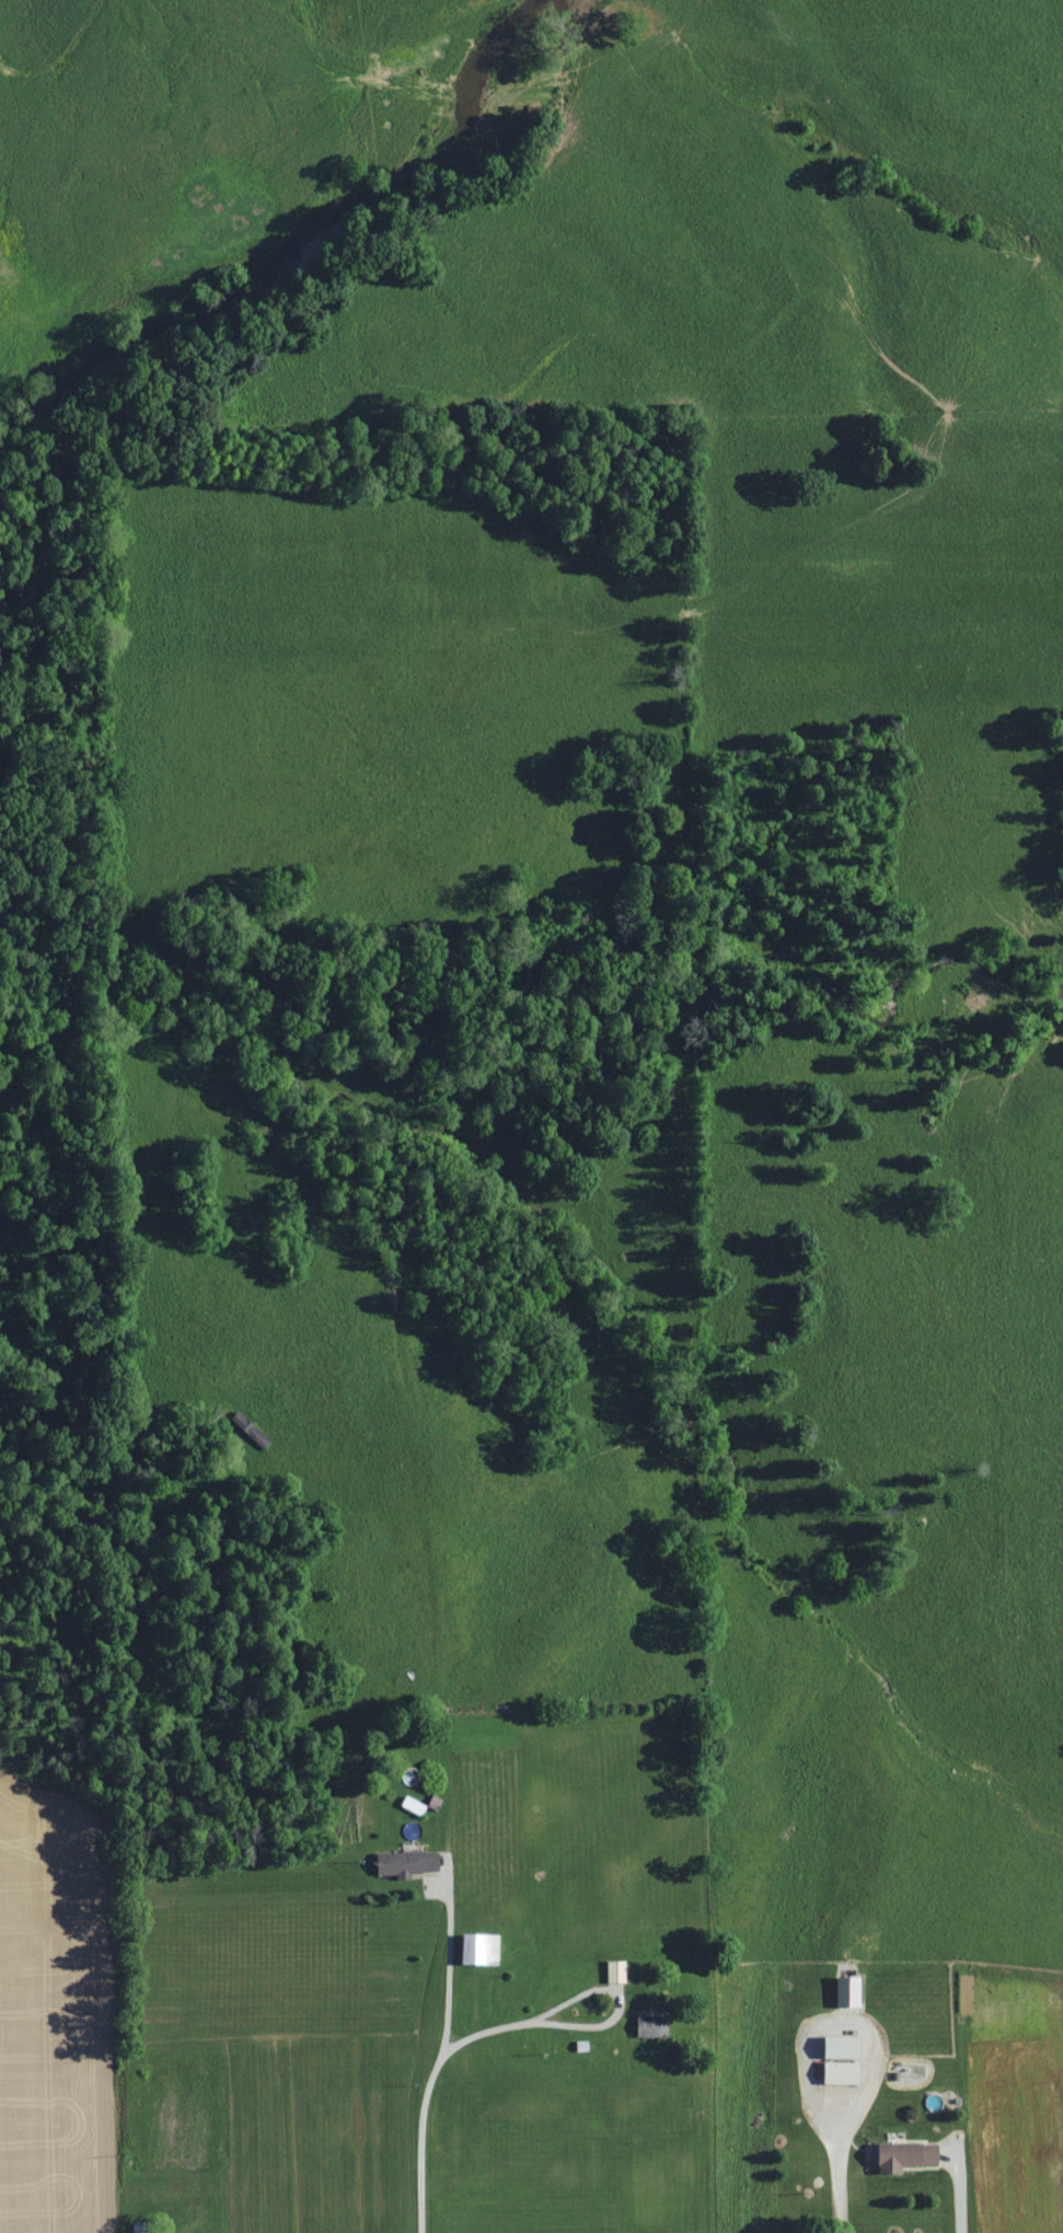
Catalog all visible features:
river: (291, 231)
building: (414, 1805)
building: (406, 1863)
building: (850, 1992)
road: (596, 2024)
building: (652, 2026)
building: (843, 2073)
road: (425, 2089)
building: (908, 2155)
road: (834, 2168)
building: (140, 2228)

